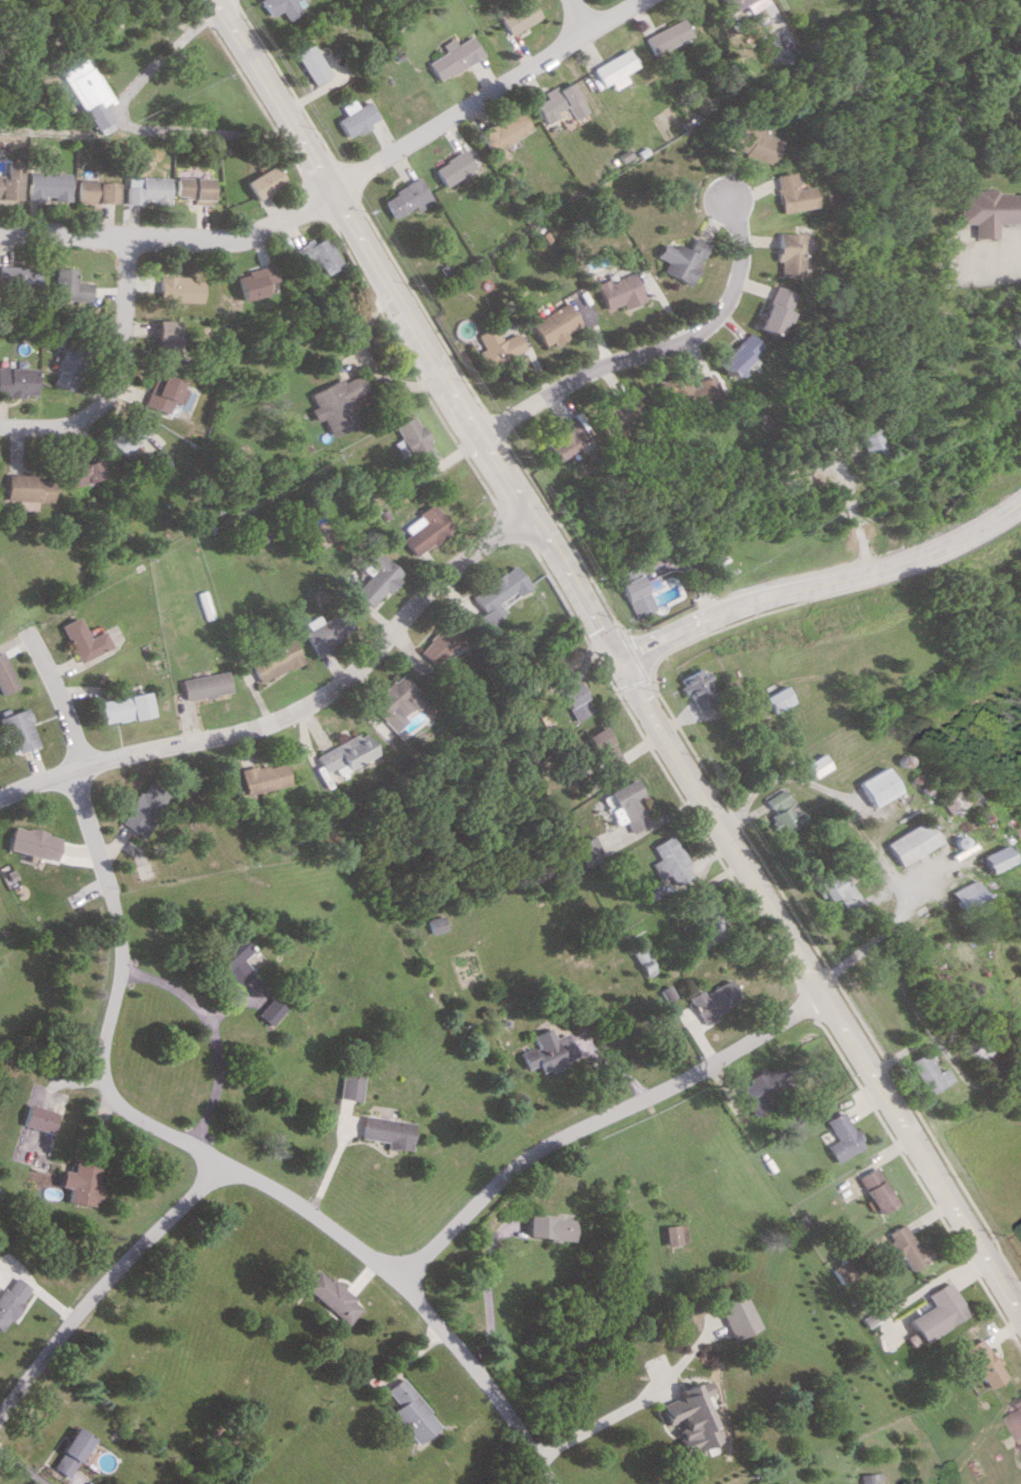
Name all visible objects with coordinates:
building: (737, 6)
building: (279, 7)
building: (516, 16)
road: (574, 16)
building: (664, 36)
building: (451, 56)
building: (307, 63)
building: (611, 69)
building: (85, 90)
road: (481, 94)
building: (557, 102)
building: (351, 117)
road: (128, 126)
building: (501, 131)
building: (751, 144)
building: (451, 167)
building: (10, 180)
building: (262, 181)
building: (48, 186)
building: (193, 189)
building: (146, 190)
building: (96, 191)
building: (789, 193)
building: (403, 198)
building: (985, 210)
road: (170, 236)
road: (988, 248)
building: (319, 253)
building: (786, 253)
building: (679, 258)
building: (18, 275)
building: (254, 282)
building: (70, 286)
building: (177, 289)
building: (617, 291)
building: (771, 310)
building: (550, 324)
road: (414, 332)
building: (165, 339)
building: (1017, 343)
building: (493, 346)
road: (655, 349)
building: (735, 353)
building: (68, 365)
road: (119, 375)
building: (18, 381)
building: (687, 389)
building: (164, 393)
building: (334, 403)
building: (616, 412)
building: (129, 437)
building: (408, 439)
building: (560, 439)
building: (865, 440)
building: (84, 471)
building: (30, 487)
building: (421, 530)
building: (258, 534)
building: (375, 579)
road: (823, 584)
building: (496, 592)
building: (637, 596)
building: (324, 632)
building: (83, 640)
building: (439, 641)
building: (274, 660)
traffic signals: (620, 662)
building: (5, 677)
building: (204, 685)
building: (699, 688)
building: (780, 699)
road: (58, 701)
building: (573, 701)
building: (123, 707)
road: (291, 709)
building: (17, 730)
building: (604, 751)
building: (344, 752)
building: (818, 765)
building: (263, 777)
building: (878, 786)
building: (625, 805)
building: (141, 809)
building: (782, 811)
building: (1016, 830)
building: (31, 842)
building: (911, 842)
building: (587, 849)
building: (992, 858)
building: (672, 861)
building: (838, 891)
building: (964, 895)
building: (436, 924)
building: (712, 924)
road: (873, 934)
building: (232, 959)
road: (819, 989)
building: (713, 1000)
building: (269, 1011)
road: (214, 1034)
building: (549, 1051)
building: (928, 1073)
building: (349, 1086)
building: (762, 1089)
building: (40, 1118)
road: (599, 1121)
building: (387, 1132)
building: (841, 1137)
road: (221, 1165)
building: (81, 1183)
building: (875, 1190)
building: (547, 1228)
building: (674, 1235)
building: (904, 1247)
road: (103, 1281)
road: (485, 1290)
building: (10, 1296)
building: (330, 1296)
road: (920, 1296)
building: (736, 1316)
building: (941, 1316)
building: (981, 1362)
building: (702, 1388)
building: (406, 1411)
building: (1015, 1412)
building: (687, 1417)
road: (599, 1420)
building: (69, 1451)
road: (21, 1468)
building: (867, 1478)

